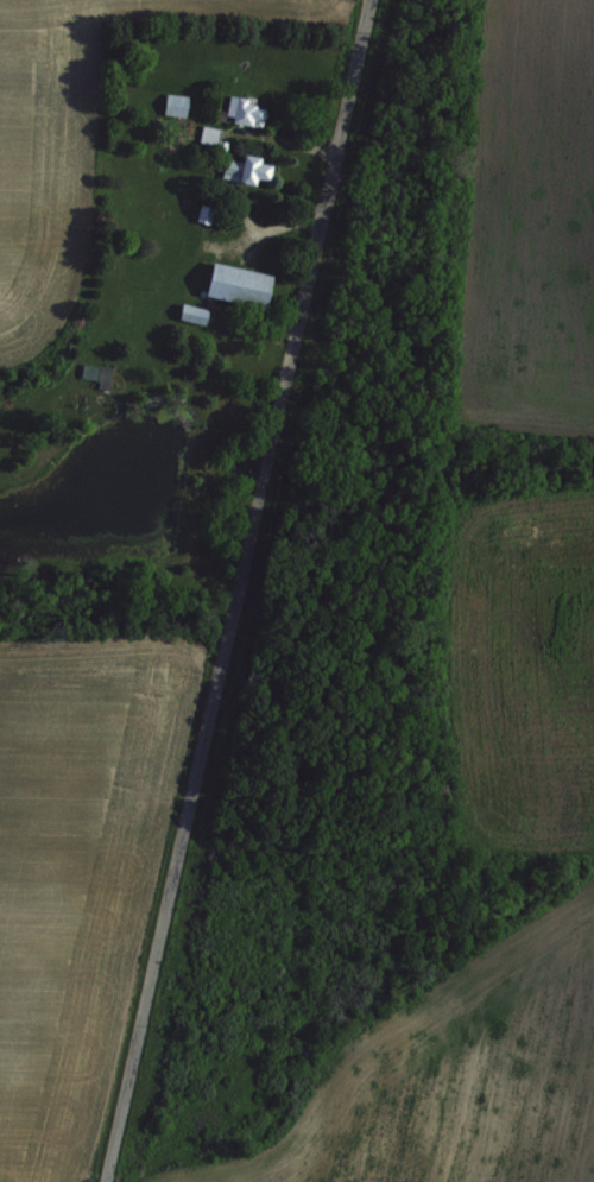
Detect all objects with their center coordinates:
building: (170, 102)
building: (239, 108)
building: (206, 133)
road: (292, 141)
building: (241, 170)
road: (277, 226)
building: (227, 283)
building: (185, 312)
building: (93, 373)
road: (236, 590)

